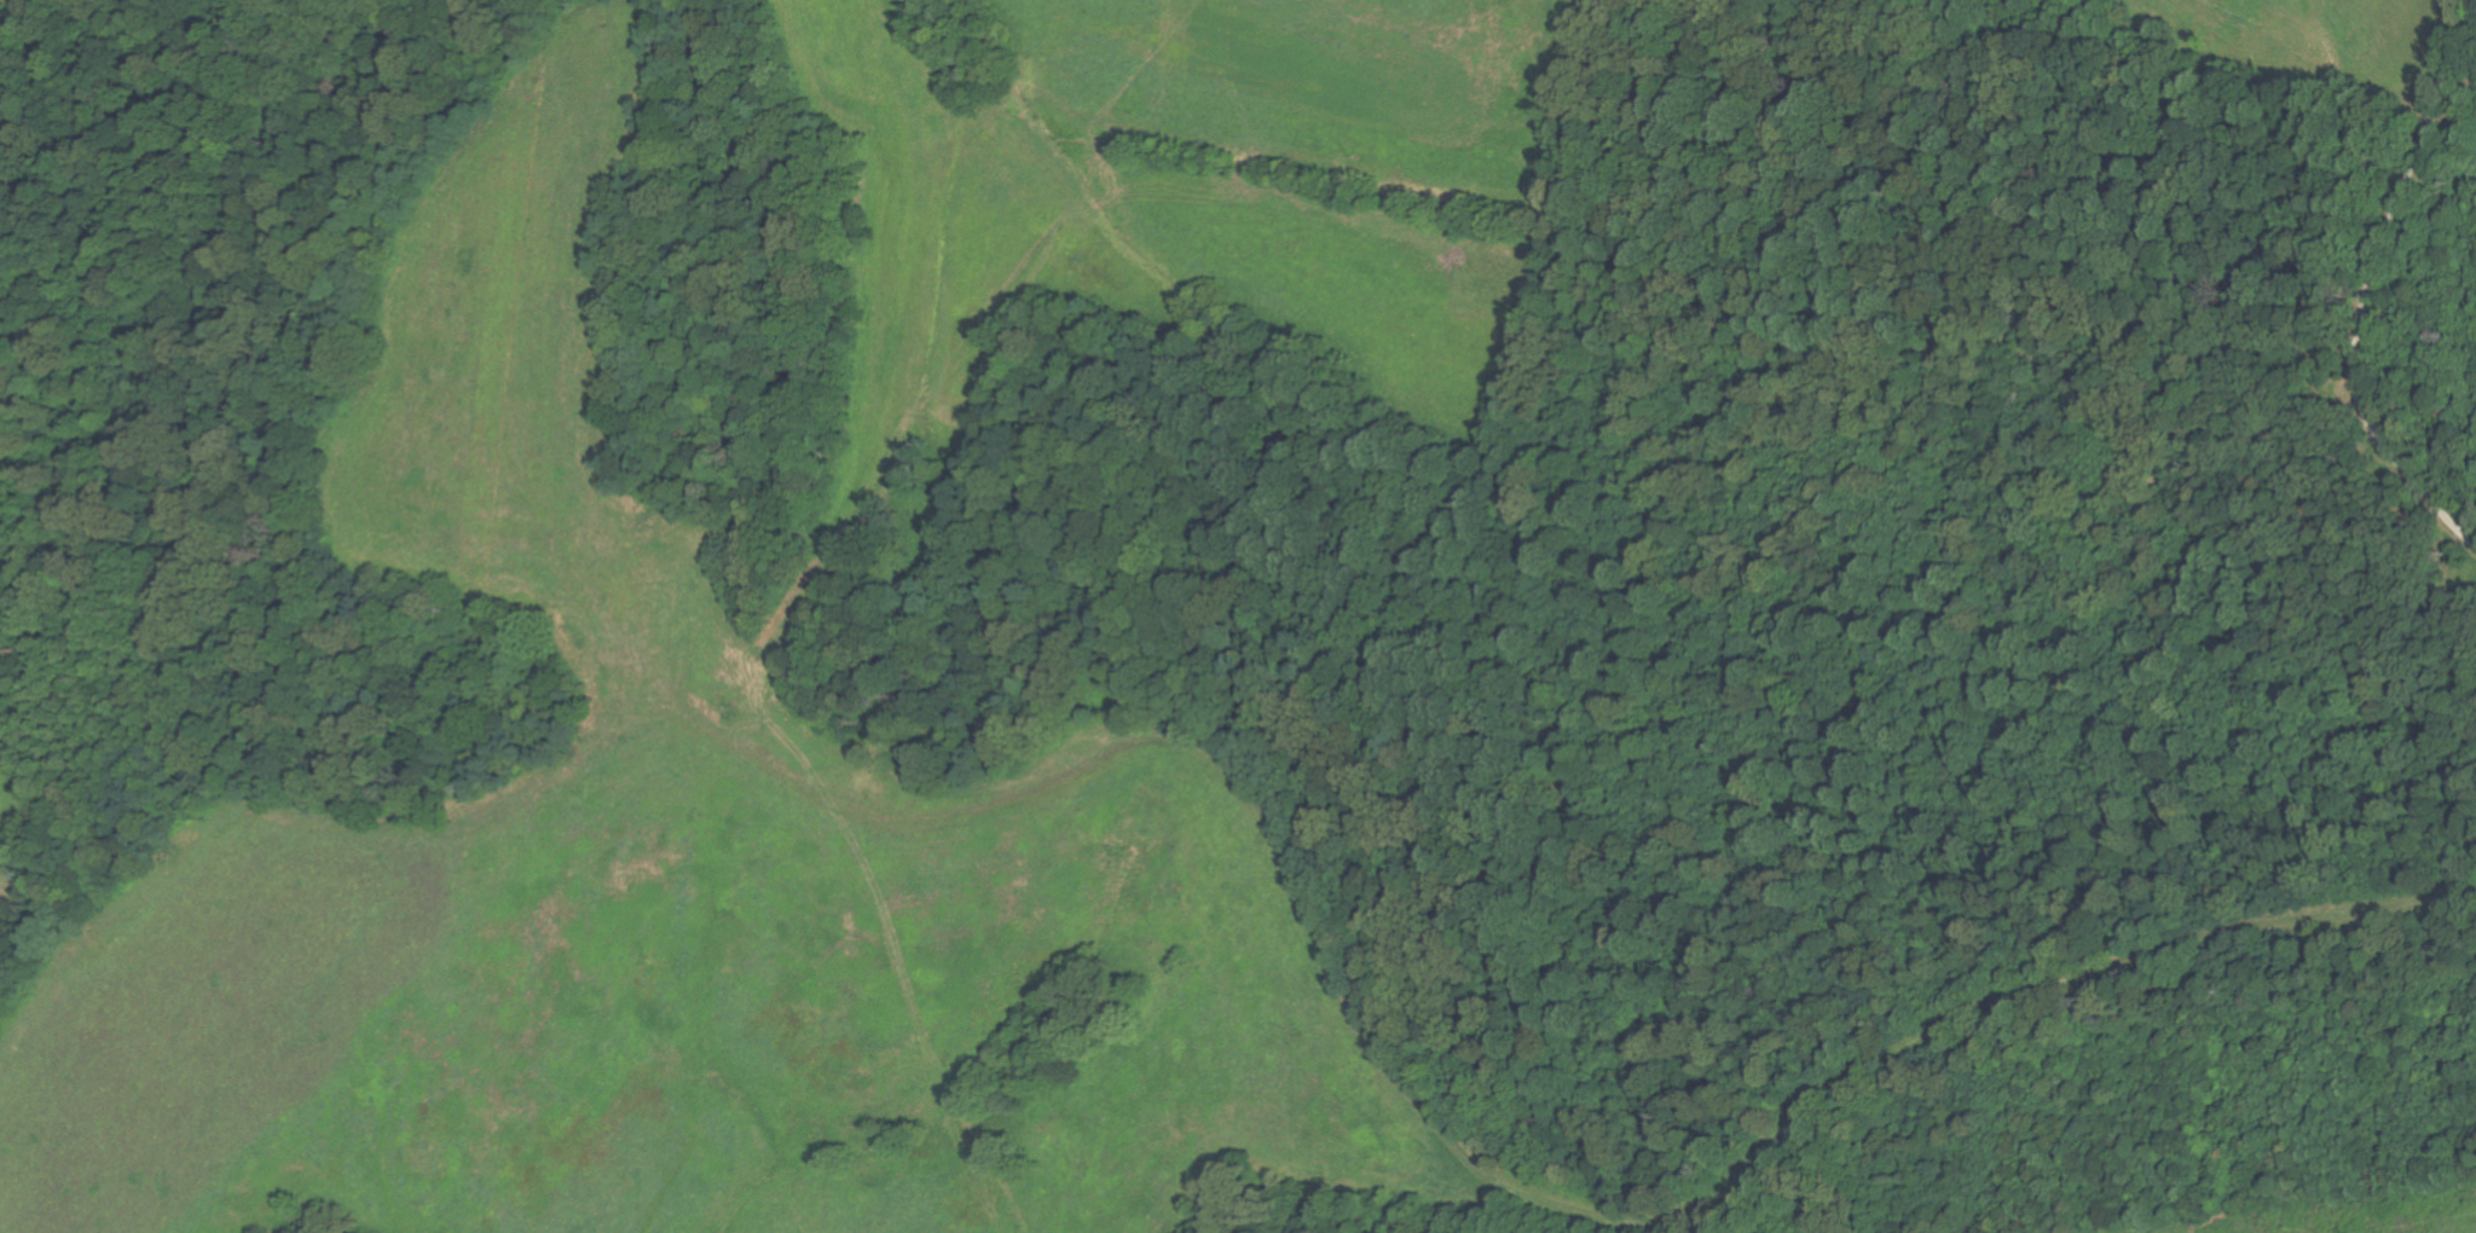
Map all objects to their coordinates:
road: (2373, 285)

